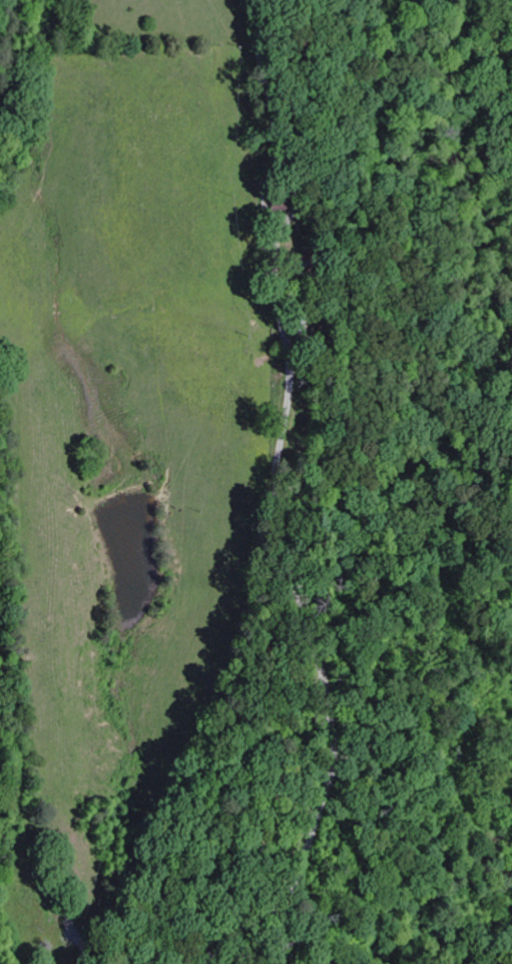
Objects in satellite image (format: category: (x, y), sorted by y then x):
road: (294, 879)
road: (3, 957)

